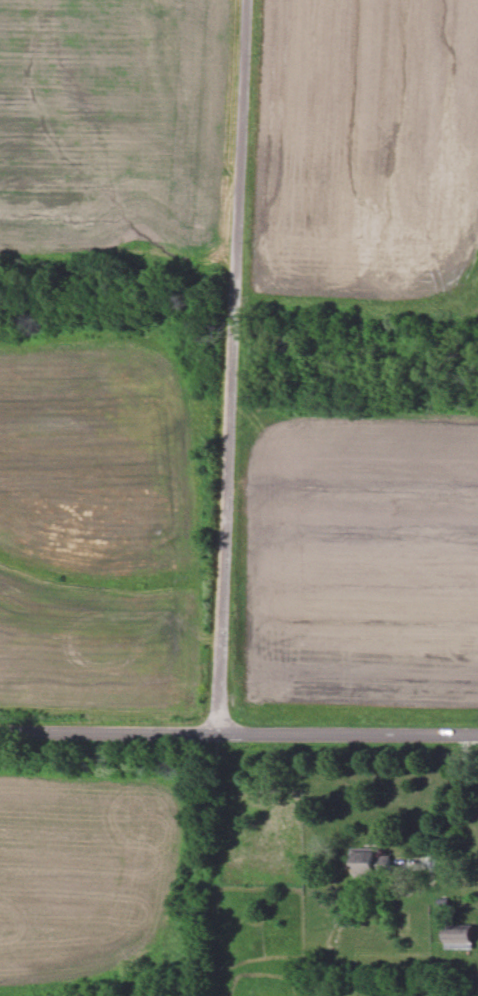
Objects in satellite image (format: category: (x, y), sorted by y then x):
crop: (120, 125)
road: (231, 366)
crop: (109, 530)
road: (238, 733)
road: (459, 800)
building: (367, 863)
crop: (87, 869)
building: (460, 939)

